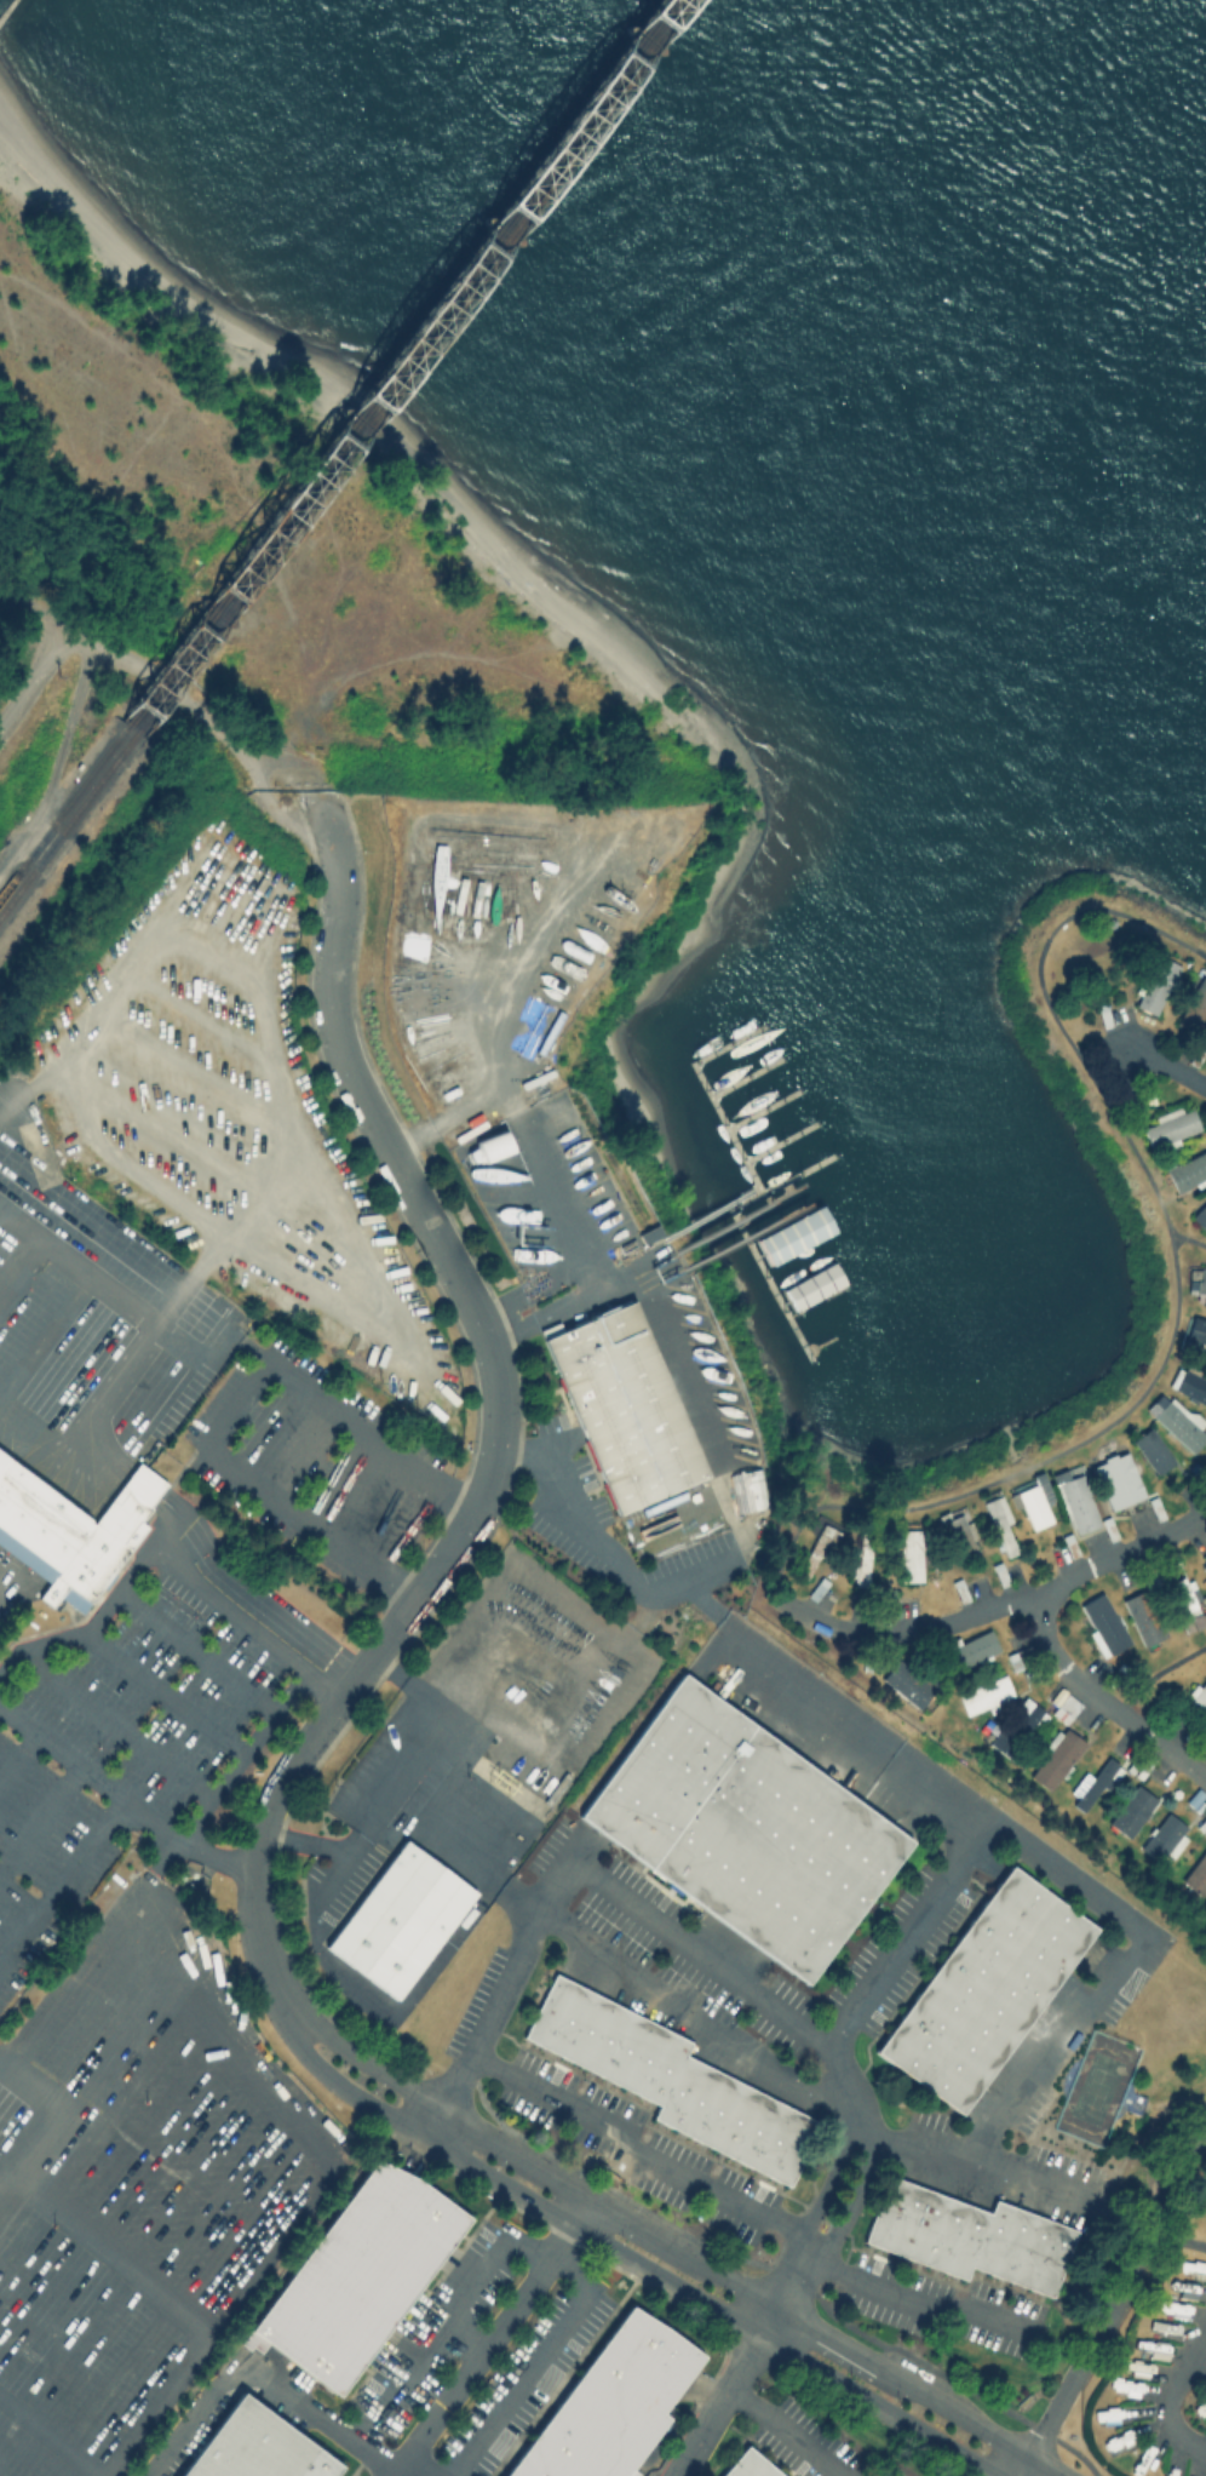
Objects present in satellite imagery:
railway: (396, 361)
railway: (407, 363)
road: (38, 665)
road: (171, 690)
road: (58, 758)
railway: (63, 807)
railway: (68, 819)
building: (1156, 984)
road: (1047, 1007)
building: (1194, 1009)
road: (504, 1037)
road: (1165, 1064)
pier: (745, 1074)
pier: (763, 1107)
building: (1170, 1125)
pier: (733, 1135)
pier: (781, 1139)
building: (502, 1152)
building: (1188, 1171)
road: (420, 1207)
pier: (737, 1215)
building: (1200, 1216)
road: (2, 1217)
road: (19, 1223)
pier: (746, 1232)
pier: (745, 1233)
building: (794, 1234)
road: (591, 1259)
building: (1196, 1280)
road: (143, 1316)
building: (1194, 1332)
building: (1188, 1383)
road: (239, 1406)
building: (628, 1408)
building: (1176, 1420)
building: (1153, 1450)
road: (1020, 1467)
building: (1118, 1479)
road: (143, 1483)
building: (746, 1491)
building: (1035, 1501)
building: (1075, 1501)
building: (1000, 1524)
building: (958, 1529)
building: (70, 1530)
road: (596, 1546)
building: (819, 1546)
road: (1120, 1551)
building: (909, 1554)
road: (166, 1558)
building: (861, 1566)
building: (1202, 1567)
road: (249, 1592)
building: (1189, 1603)
building: (1143, 1617)
building: (1103, 1624)
road: (923, 1630)
building: (971, 1649)
road: (1156, 1672)
building: (908, 1681)
building: (984, 1693)
building: (1199, 1696)
road: (1101, 1700)
building: (1016, 1726)
road: (871, 1727)
building: (1056, 1759)
building: (1096, 1782)
road: (409, 1784)
road: (280, 1786)
road: (122, 1798)
building: (1132, 1811)
building: (1202, 1824)
building: (750, 1832)
building: (1165, 1836)
building: (1196, 1876)
road: (61, 1880)
building: (407, 1920)
road: (676, 1931)
road: (913, 1933)
road: (93, 1955)
building: (983, 1988)
road: (685, 2017)
road: (1084, 2017)
road: (842, 2069)
building: (672, 2080)
road: (335, 2082)
road: (2, 2174)
road: (1026, 2178)
road: (746, 2202)
road: (578, 2226)
building: (967, 2236)
road: (1176, 2236)
road: (683, 2251)
road: (117, 2263)
building: (358, 2271)
road: (1124, 2291)
road: (498, 2333)
road: (1198, 2356)
road: (534, 2361)
road: (268, 2379)
road: (727, 2391)
road: (1167, 2392)
building: (608, 2403)
road: (878, 2406)
building: (1102, 2417)
road: (785, 2430)
road: (53, 2435)
building: (1119, 2438)
building: (254, 2446)
building: (756, 2464)
road: (1024, 2465)
road: (406, 2474)
road: (412, 2474)

